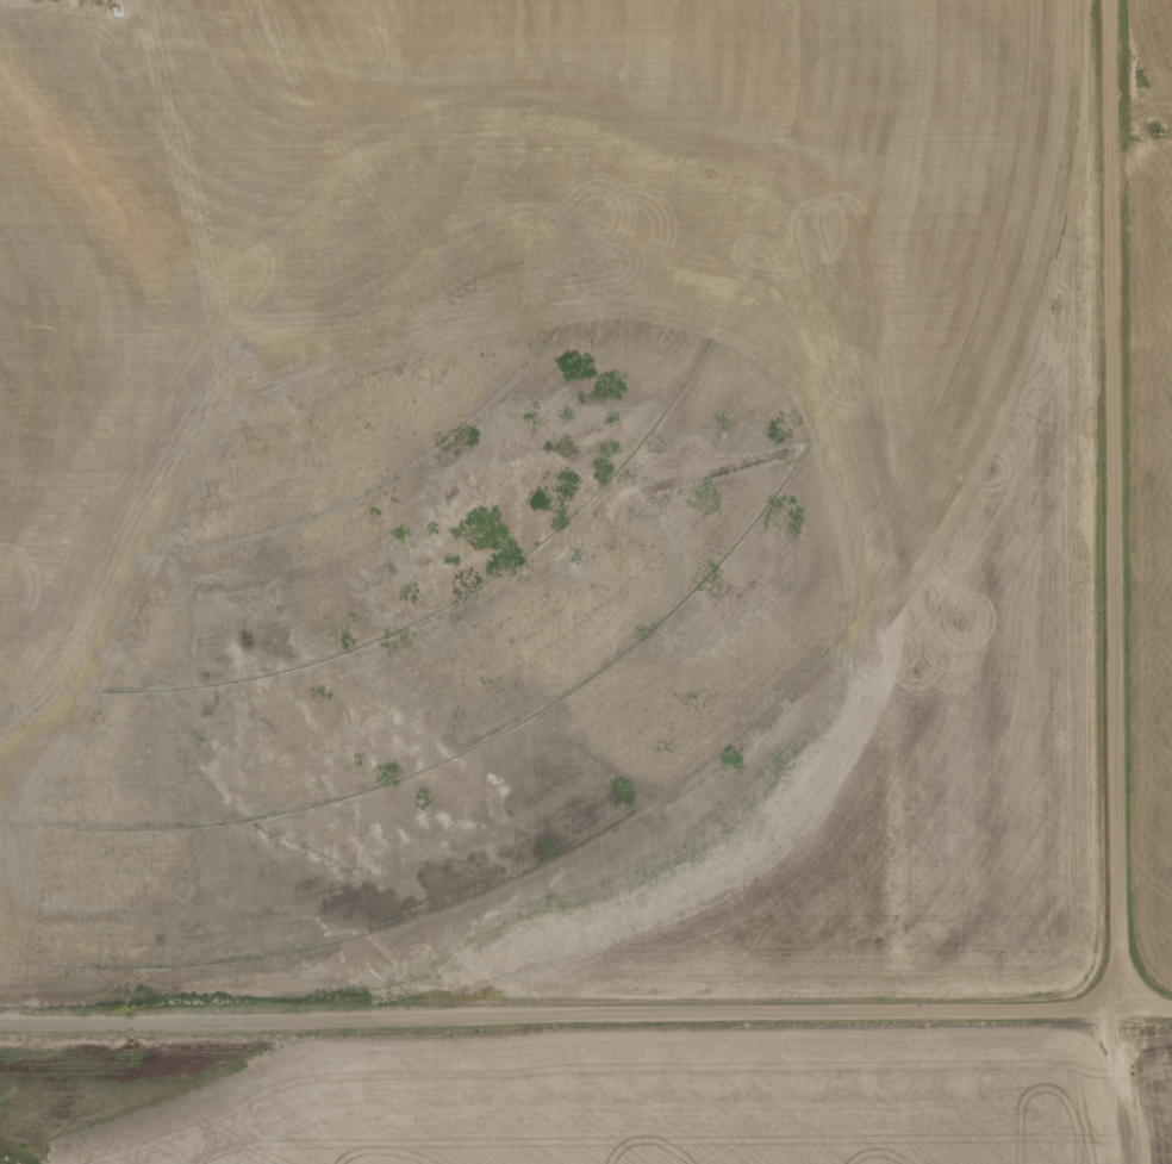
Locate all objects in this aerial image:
road: (1114, 504)
road: (586, 1010)
road: (1124, 1085)

